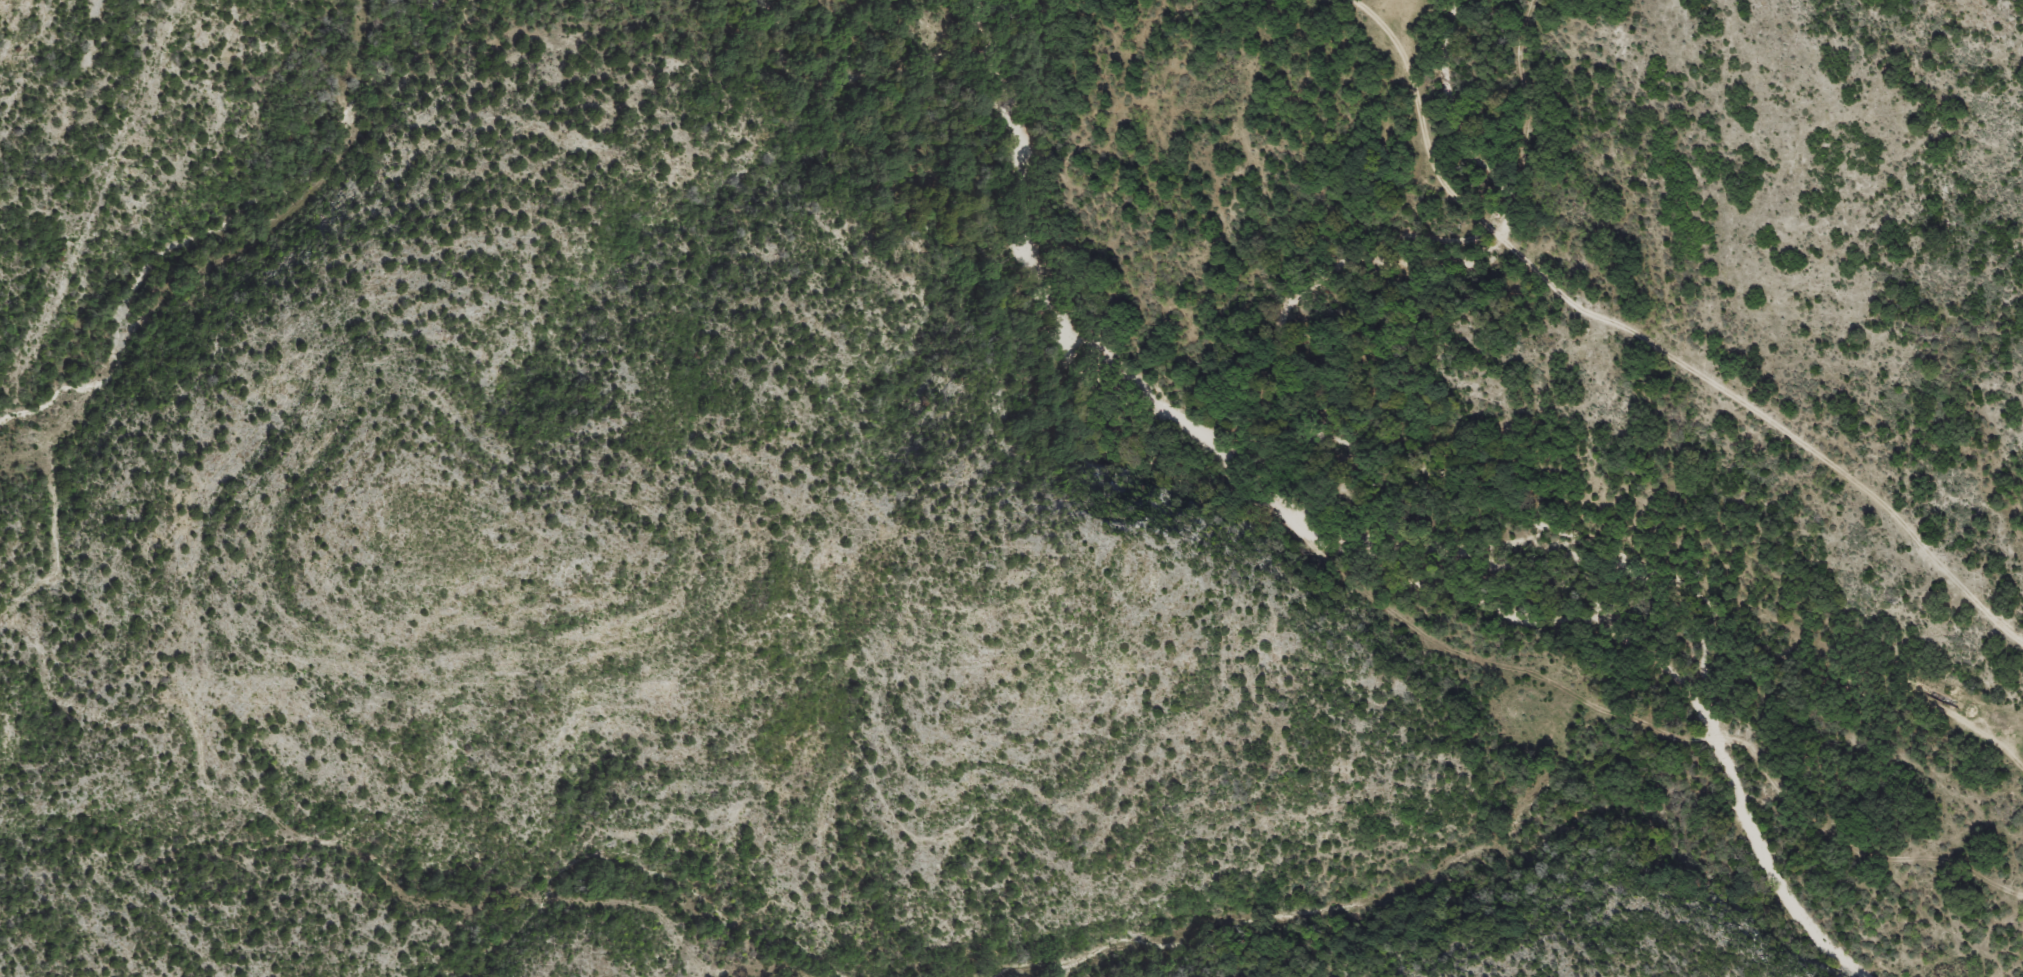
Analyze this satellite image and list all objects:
road: (1532, 143)
road: (1649, 345)

